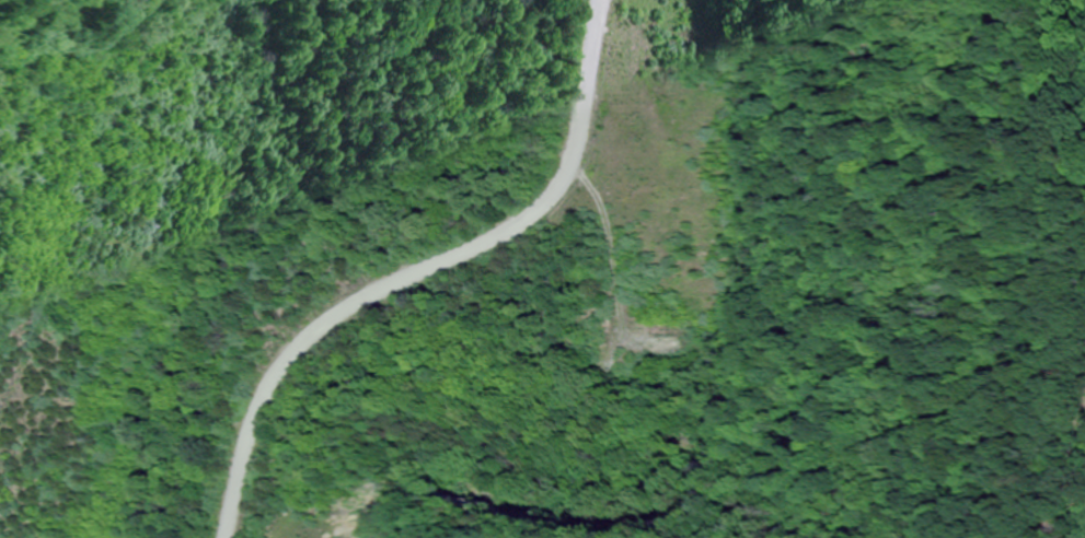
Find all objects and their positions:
road: (425, 268)

